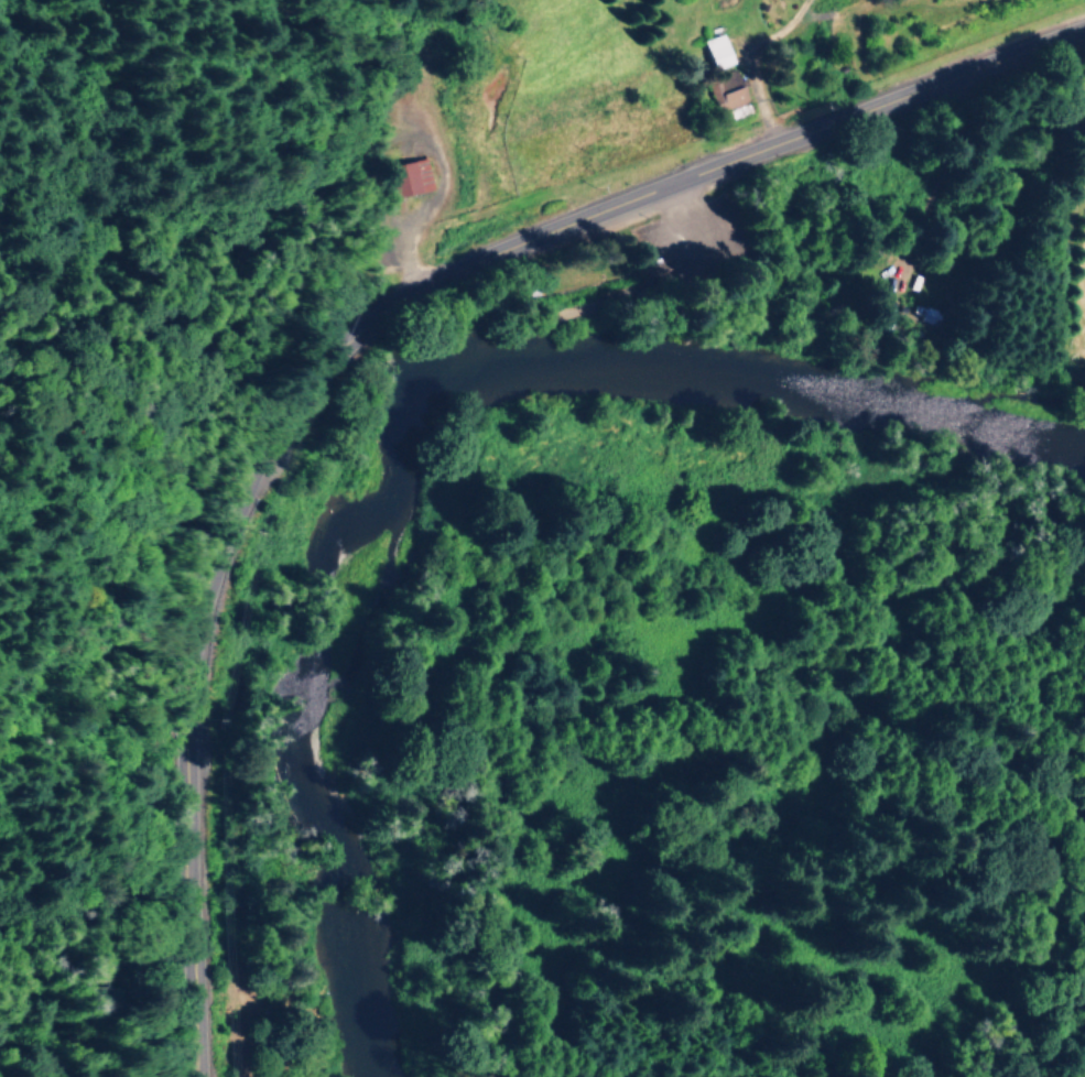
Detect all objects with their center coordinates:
building: (716, 52)
building: (725, 97)
road: (421, 140)
building: (406, 177)
park: (659, 275)
road: (660, 282)
road: (357, 329)
river: (414, 412)

